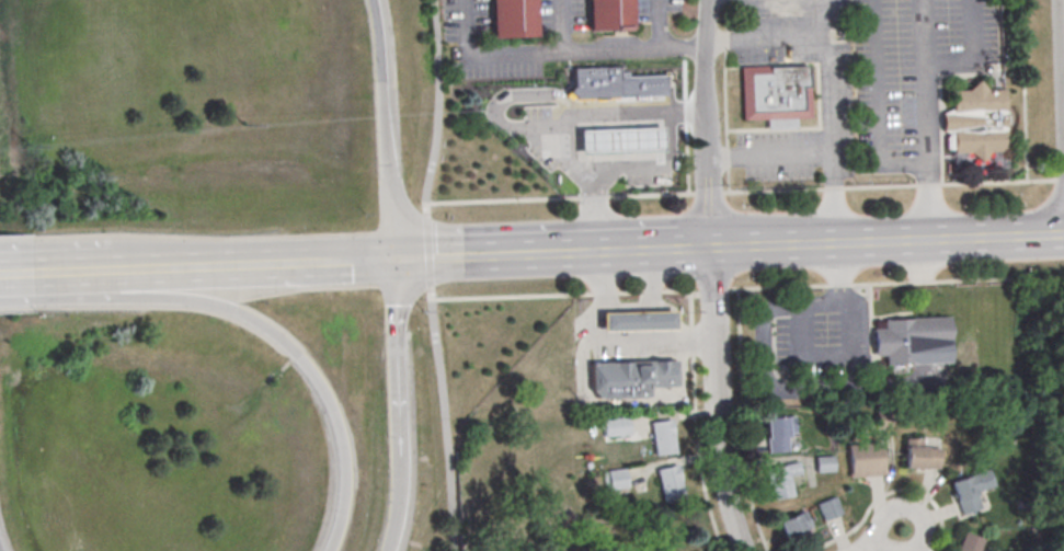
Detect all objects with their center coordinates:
road: (1063, 13)
building: (608, 14)
building: (513, 18)
road: (657, 24)
road: (563, 27)
road: (923, 33)
road: (766, 42)
road: (560, 56)
road: (976, 57)
building: (597, 84)
building: (775, 96)
road: (437, 107)
road: (497, 107)
road: (877, 107)
road: (831, 120)
road: (703, 122)
building: (975, 123)
road: (384, 128)
building: (620, 144)
gas station: (620, 144)
road: (929, 151)
road: (569, 152)
road: (768, 156)
road: (816, 190)
road: (594, 209)
road: (998, 236)
road: (926, 238)
road: (813, 241)
road: (693, 245)
road: (536, 252)
road: (426, 253)
road: (211, 265)
road: (15, 272)
road: (920, 276)
road: (998, 282)
road: (920, 285)
road: (880, 286)
road: (839, 288)
road: (778, 290)
road: (670, 294)
road: (650, 295)
road: (714, 295)
road: (629, 296)
road: (606, 297)
road: (688, 297)
road: (511, 298)
road: (627, 308)
road: (629, 311)
road: (629, 324)
building: (637, 324)
road: (267, 329)
road: (394, 329)
road: (931, 330)
building: (906, 335)
road: (670, 338)
road: (591, 340)
road: (838, 358)
road: (764, 378)
building: (629, 381)
road: (719, 399)
road: (396, 410)
road: (444, 421)
road: (743, 423)
road: (696, 425)
building: (613, 426)
building: (776, 434)
building: (662, 438)
building: (919, 455)
building: (865, 459)
building: (823, 463)
building: (615, 479)
building: (780, 480)
building: (670, 482)
road: (396, 485)
building: (968, 490)
road: (891, 494)
building: (828, 509)
building: (790, 528)
road: (884, 540)
building: (966, 542)
building: (699, 550)

